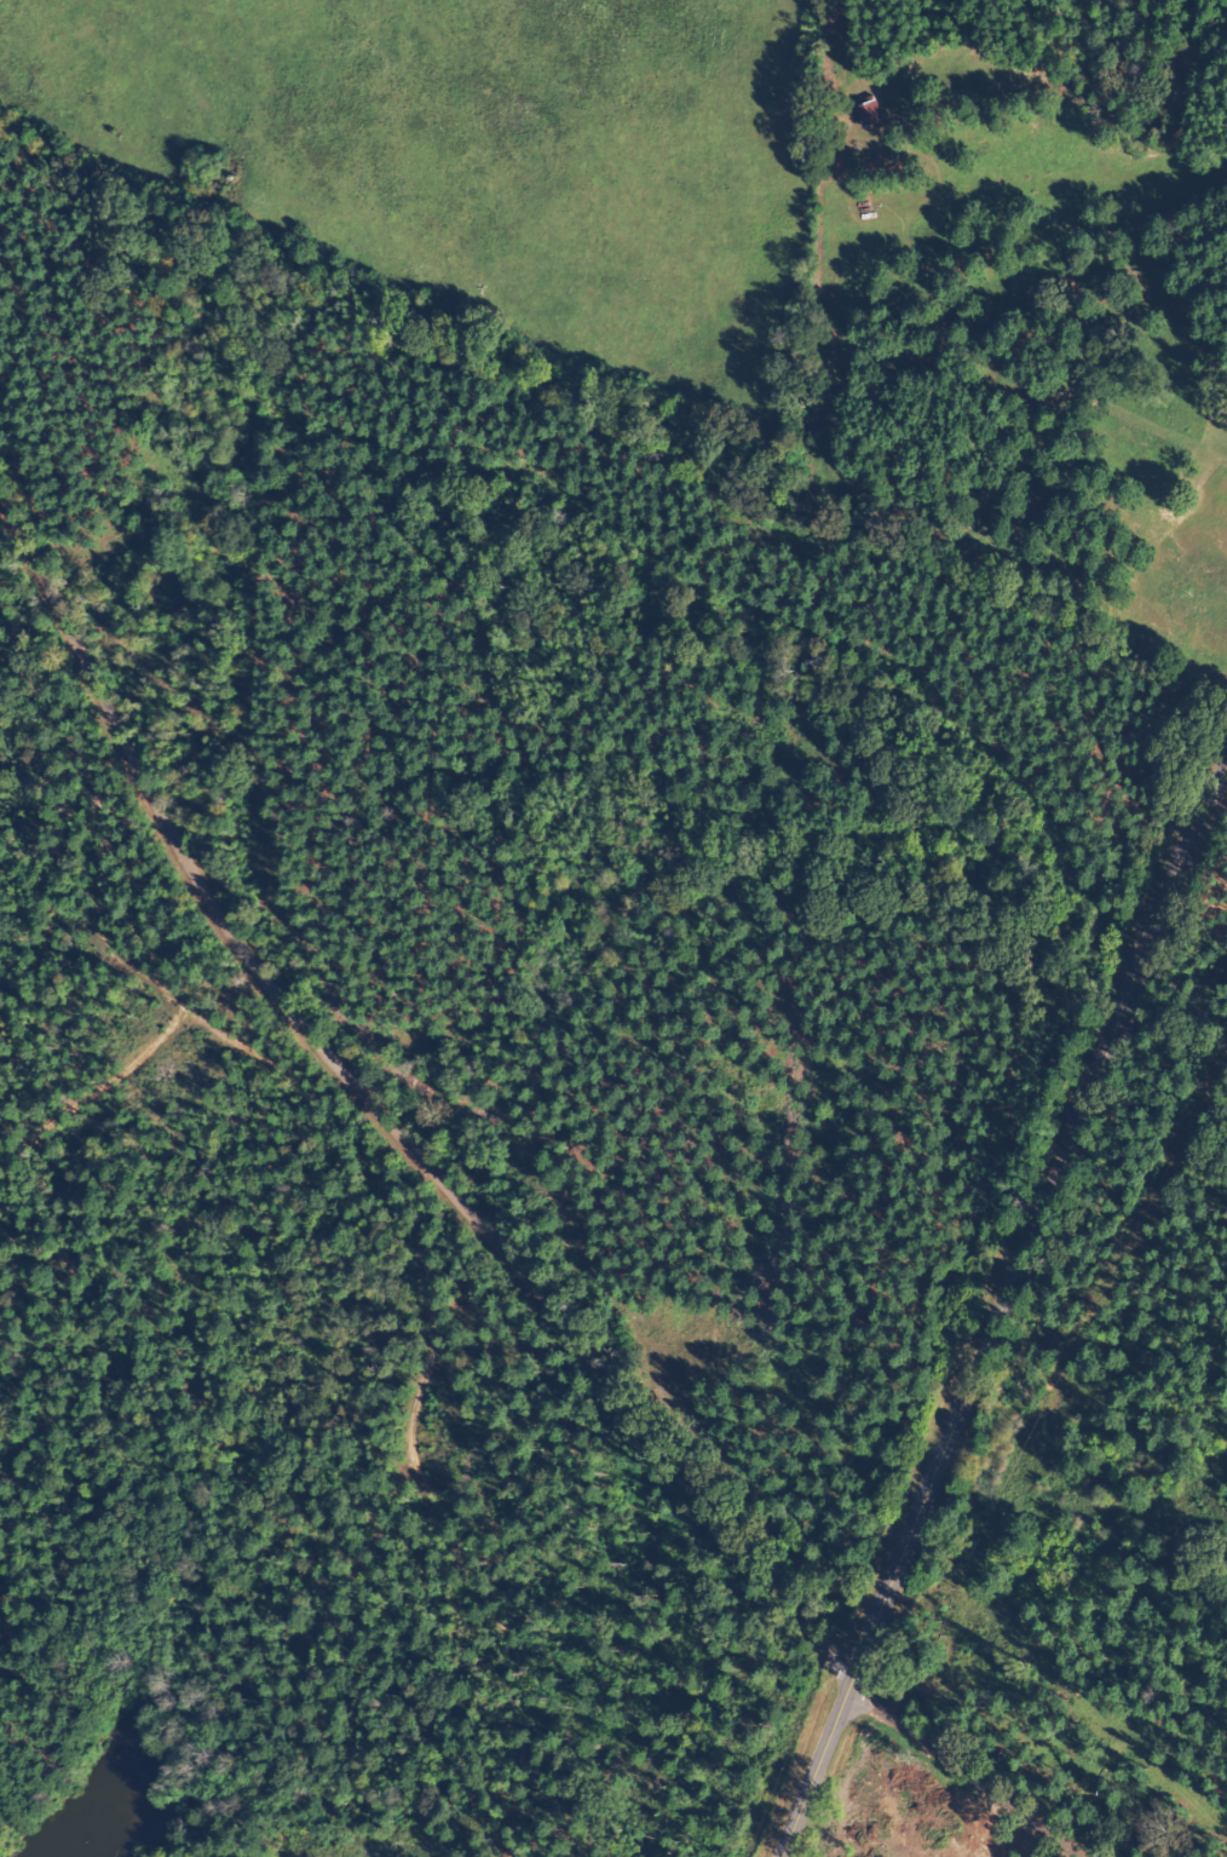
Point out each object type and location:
building: (875, 115)
road: (376, 1157)
road: (1000, 1315)
road: (864, 1714)
road: (961, 1795)

